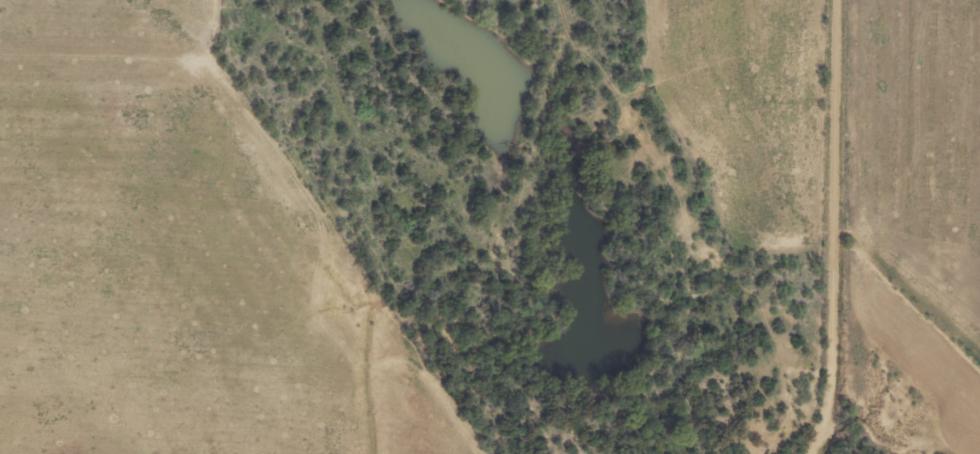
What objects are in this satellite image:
road: (128, 52)
road: (840, 228)

